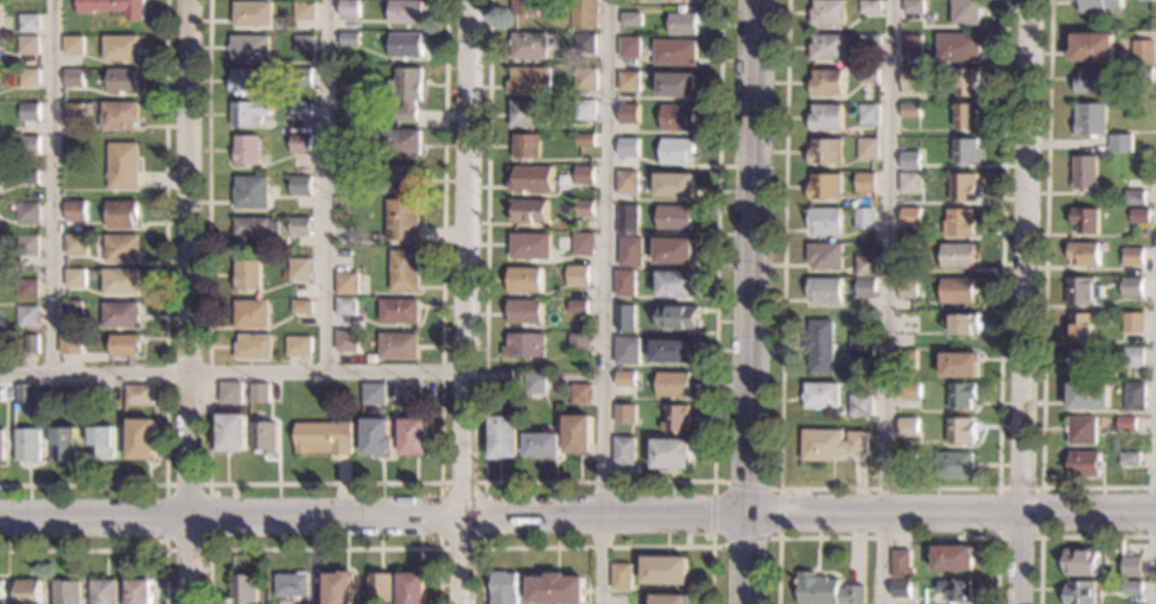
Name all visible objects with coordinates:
building: (1142, 1)
building: (110, 7)
building: (526, 7)
building: (910, 7)
building: (1094, 7)
building: (350, 8)
building: (868, 8)
building: (305, 11)
building: (406, 12)
building: (253, 13)
building: (583, 13)
building: (826, 13)
building: (963, 13)
building: (0, 17)
building: (630, 19)
building: (28, 23)
building: (682, 24)
building: (350, 38)
building: (866, 43)
building: (27, 44)
building: (305, 44)
building: (584, 44)
building: (72, 45)
building: (406, 45)
building: (529, 45)
building: (908, 46)
building: (252, 47)
building: (629, 47)
building: (825, 47)
building: (1088, 47)
building: (120, 49)
building: (955, 49)
building: (1138, 51)
building: (674, 52)
building: (1139, 74)
building: (28, 77)
building: (303, 77)
building: (865, 77)
building: (74, 78)
building: (531, 80)
building: (584, 80)
building: (122, 81)
building: (243, 81)
building: (627, 81)
building: (909, 81)
building: (1088, 82)
building: (825, 83)
building: (964, 83)
building: (675, 84)
building: (343, 89)
building: (407, 93)
building: (88, 109)
building: (585, 109)
building: (303, 110)
building: (30, 112)
building: (908, 112)
building: (72, 113)
building: (250, 113)
building: (528, 113)
building: (628, 114)
building: (120, 115)
building: (866, 116)
building: (963, 116)
building: (677, 117)
building: (824, 119)
building: (1087, 120)
building: (347, 135)
building: (584, 140)
building: (400, 142)
building: (30, 144)
building: (301, 144)
building: (1118, 144)
building: (527, 145)
building: (628, 148)
building: (248, 150)
building: (865, 150)
building: (677, 152)
building: (824, 152)
building: (964, 153)
building: (909, 161)
building: (122, 165)
building: (1082, 173)
building: (348, 174)
building: (584, 176)
building: (27, 177)
building: (532, 178)
building: (402, 179)
building: (627, 180)
building: (863, 184)
building: (908, 184)
road: (49, 185)
building: (301, 185)
road: (325, 185)
building: (674, 185)
building: (824, 187)
building: (961, 189)
building: (252, 192)
building: (1132, 198)
building: (584, 209)
building: (75, 210)
building: (531, 210)
building: (27, 212)
building: (121, 214)
building: (1138, 216)
building: (674, 217)
building: (908, 217)
building: (402, 220)
building: (627, 220)
building: (864, 221)
building: (822, 222)
building: (1084, 222)
building: (957, 224)
building: (300, 225)
building: (255, 230)
building: (75, 243)
building: (531, 244)
building: (583, 244)
building: (27, 246)
building: (121, 248)
building: (673, 250)
building: (629, 252)
building: (904, 253)
building: (1082, 254)
building: (822, 256)
building: (955, 256)
road: (754, 258)
building: (1130, 258)
building: (864, 267)
building: (301, 269)
building: (404, 271)
building: (246, 274)
building: (578, 275)
building: (75, 278)
building: (525, 280)
building: (120, 282)
building: (347, 282)
building: (624, 282)
building: (677, 285)
building: (27, 288)
building: (1130, 288)
building: (864, 290)
building: (906, 290)
building: (955, 292)
building: (822, 293)
building: (1081, 293)
road: (1043, 300)
road: (189, 301)
road: (466, 301)
road: (603, 301)
road: (884, 301)
road: (1025, 301)
building: (301, 306)
building: (347, 306)
building: (577, 306)
building: (72, 311)
building: (399, 311)
building: (526, 311)
building: (252, 314)
building: (120, 316)
building: (27, 317)
building: (623, 317)
building: (679, 317)
building: (352, 322)
road: (164, 324)
building: (1131, 324)
building: (964, 325)
building: (1080, 329)
building: (347, 341)
building: (579, 342)
building: (32, 344)
building: (70, 344)
building: (125, 345)
building: (298, 345)
building: (523, 345)
building: (399, 346)
building: (253, 348)
building: (819, 348)
building: (860, 348)
building: (627, 350)
building: (672, 351)
building: (1132, 358)
building: (906, 361)
building: (1080, 361)
building: (958, 367)
road: (233, 371)
building: (624, 379)
building: (509, 382)
building: (535, 383)
building: (673, 384)
building: (408, 392)
building: (907, 392)
building: (230, 393)
building: (259, 393)
building: (373, 394)
building: (580, 394)
building: (26, 395)
building: (138, 395)
building: (819, 396)
building: (960, 396)
building: (1087, 396)
building: (1133, 398)
building: (93, 407)
building: (859, 407)
building: (624, 414)
building: (675, 419)
building: (1125, 425)
building: (907, 428)
building: (1081, 431)
building: (960, 432)
building: (231, 433)
building: (578, 434)
building: (263, 437)
building: (413, 437)
building: (503, 437)
building: (377, 438)
building: (142, 439)
building: (322, 439)
building: (65, 444)
building: (102, 444)
building: (27, 445)
building: (542, 445)
building: (1, 446)
building: (830, 446)
building: (906, 449)
building: (623, 451)
building: (671, 453)
building: (1129, 459)
building: (904, 460)
building: (954, 465)
building: (1084, 465)
road: (596, 482)
road: (322, 483)
road: (439, 483)
road: (771, 488)
road: (888, 488)
road: (953, 516)
road: (375, 519)
road: (1040, 536)
road: (1063, 536)
road: (888, 538)
road: (596, 547)
road: (207, 548)
road: (324, 548)
road: (109, 549)
building: (953, 559)
road: (748, 560)
building: (1082, 561)
building: (901, 565)
building: (1132, 567)
building: (666, 571)
building: (621, 577)
building: (291, 585)
building: (380, 587)
building: (504, 587)
building: (242, 589)
building: (337, 589)
building: (412, 589)
building: (1133, 589)
building: (557, 590)
building: (957, 590)
building: (138, 591)
building: (828, 591)
building: (901, 591)
building: (1, 592)
building: (28, 592)
building: (66, 592)
building: (103, 592)
building: (1080, 592)
building: (671, 599)

